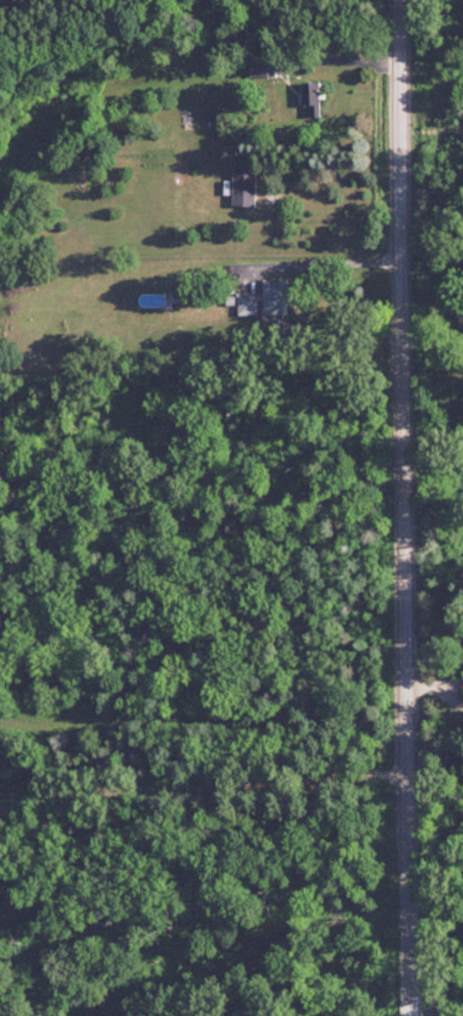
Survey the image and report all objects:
road: (343, 49)
building: (309, 95)
park: (434, 127)
building: (247, 188)
road: (328, 261)
building: (266, 301)
road: (435, 332)
road: (410, 502)
road: (205, 769)
park: (438, 894)
road: (410, 1011)

